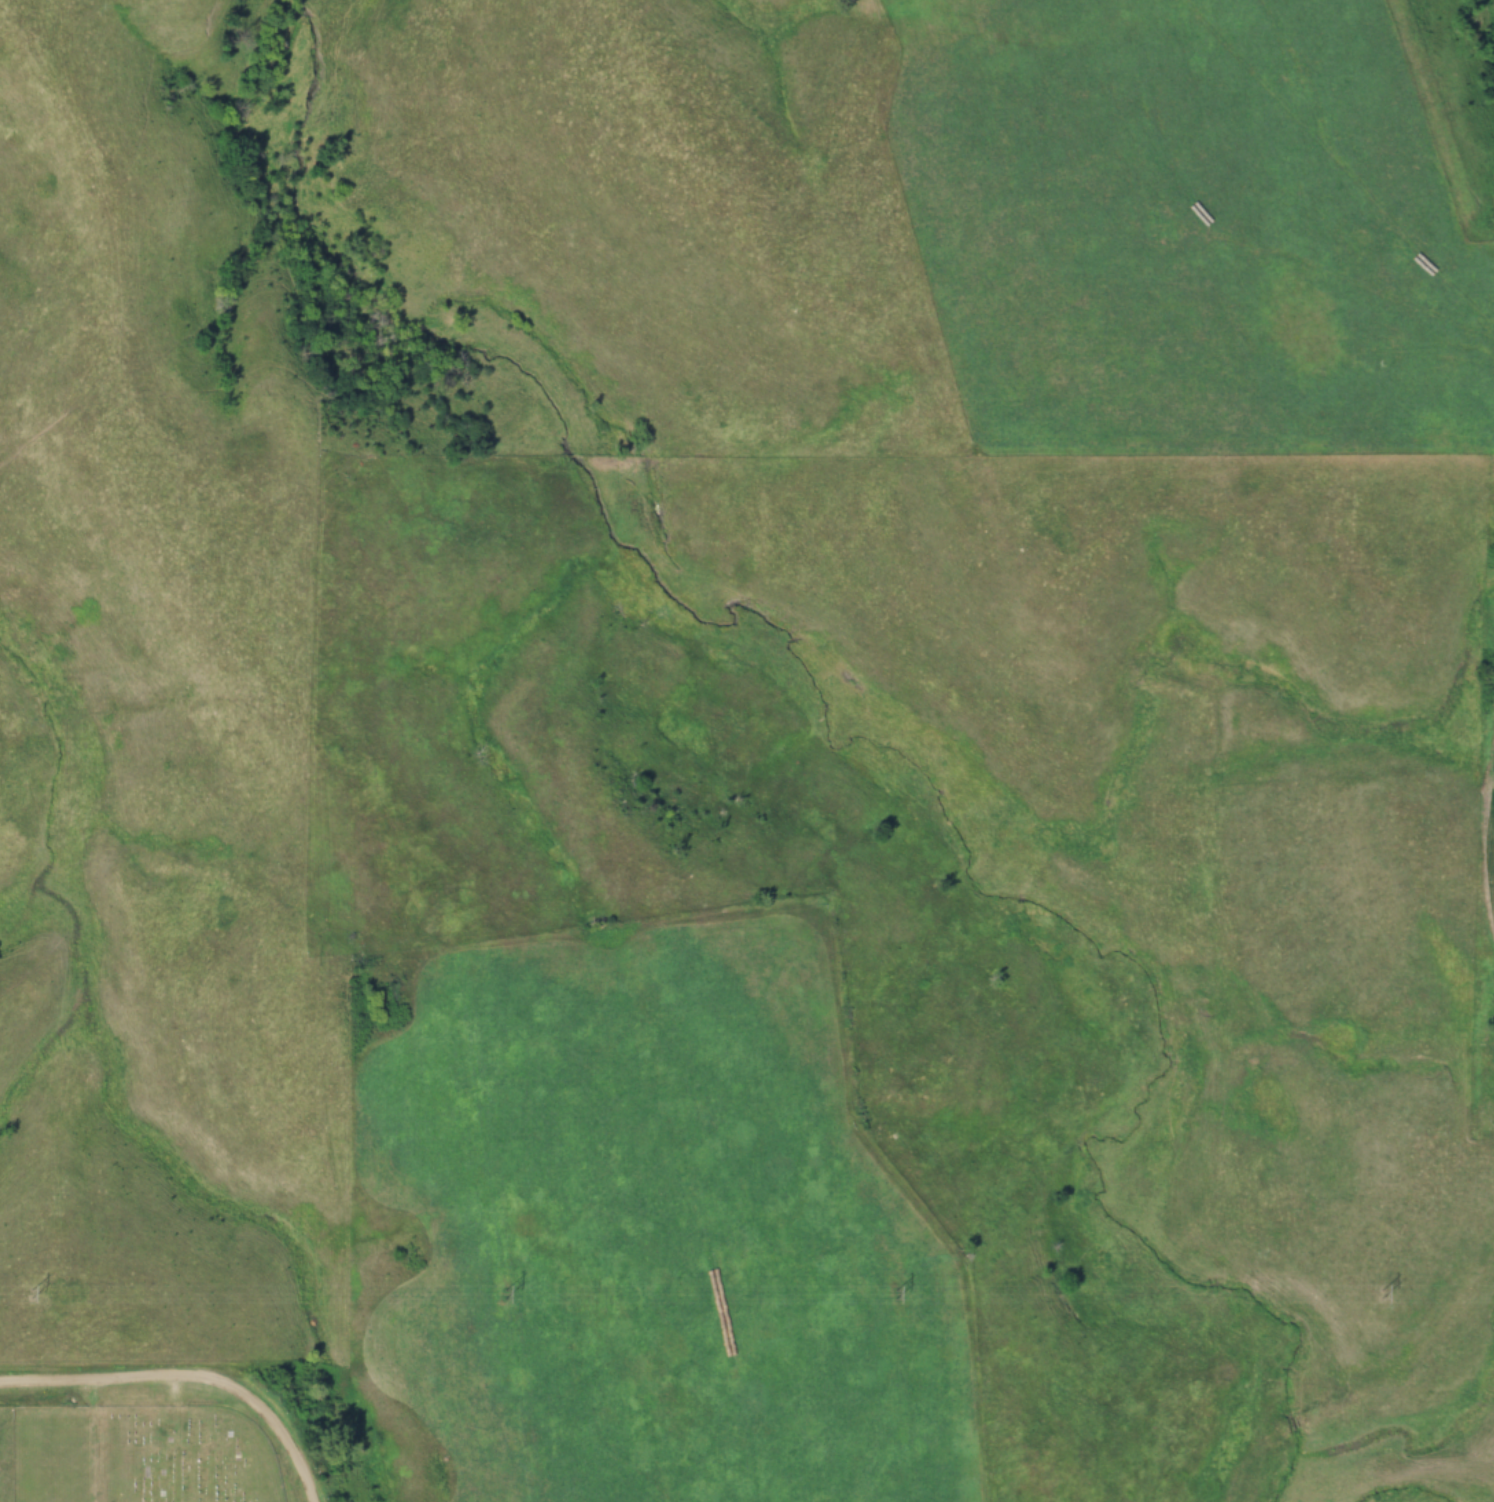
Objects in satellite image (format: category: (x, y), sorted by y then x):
power tower: (1380, 1293)
power tower: (29, 1294)
power tower: (501, 1295)
power tower: (893, 1295)
road: (189, 1376)

